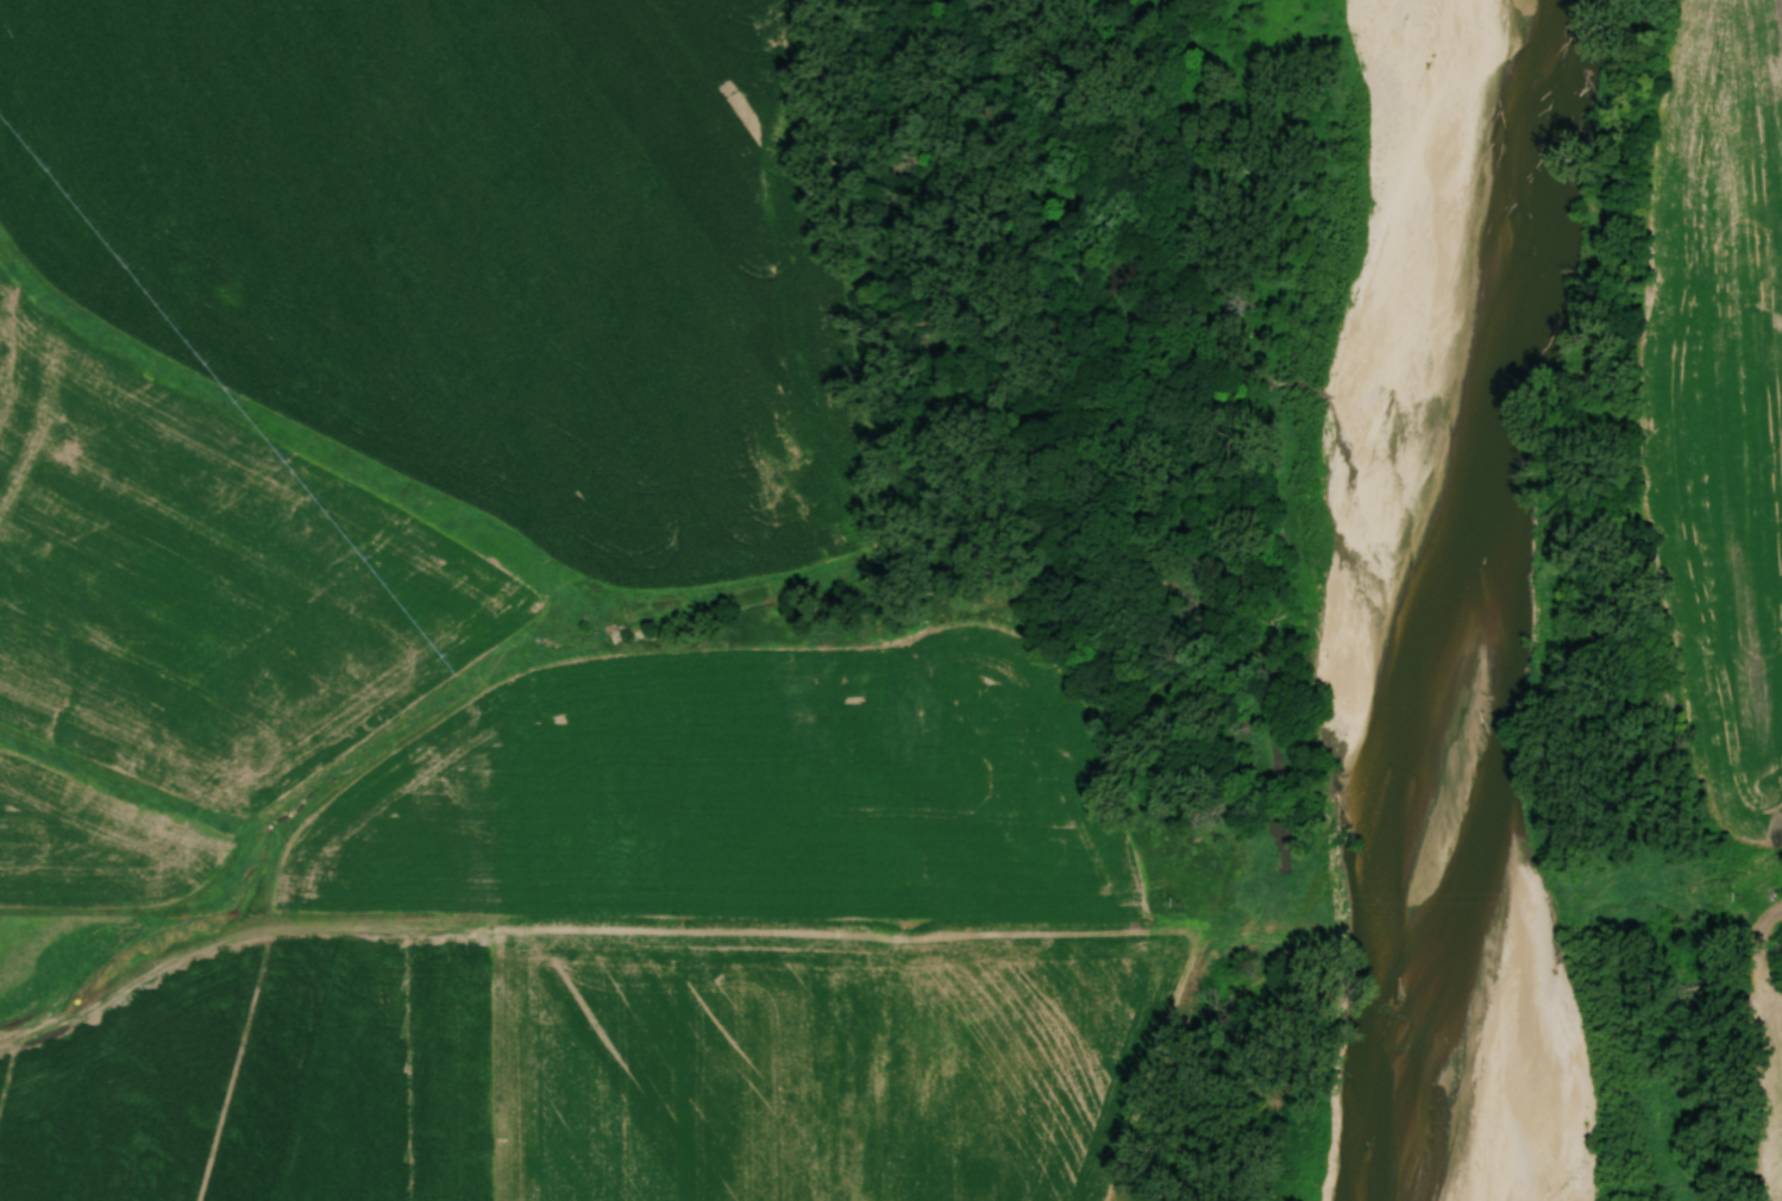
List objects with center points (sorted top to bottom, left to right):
river: (1411, 604)

